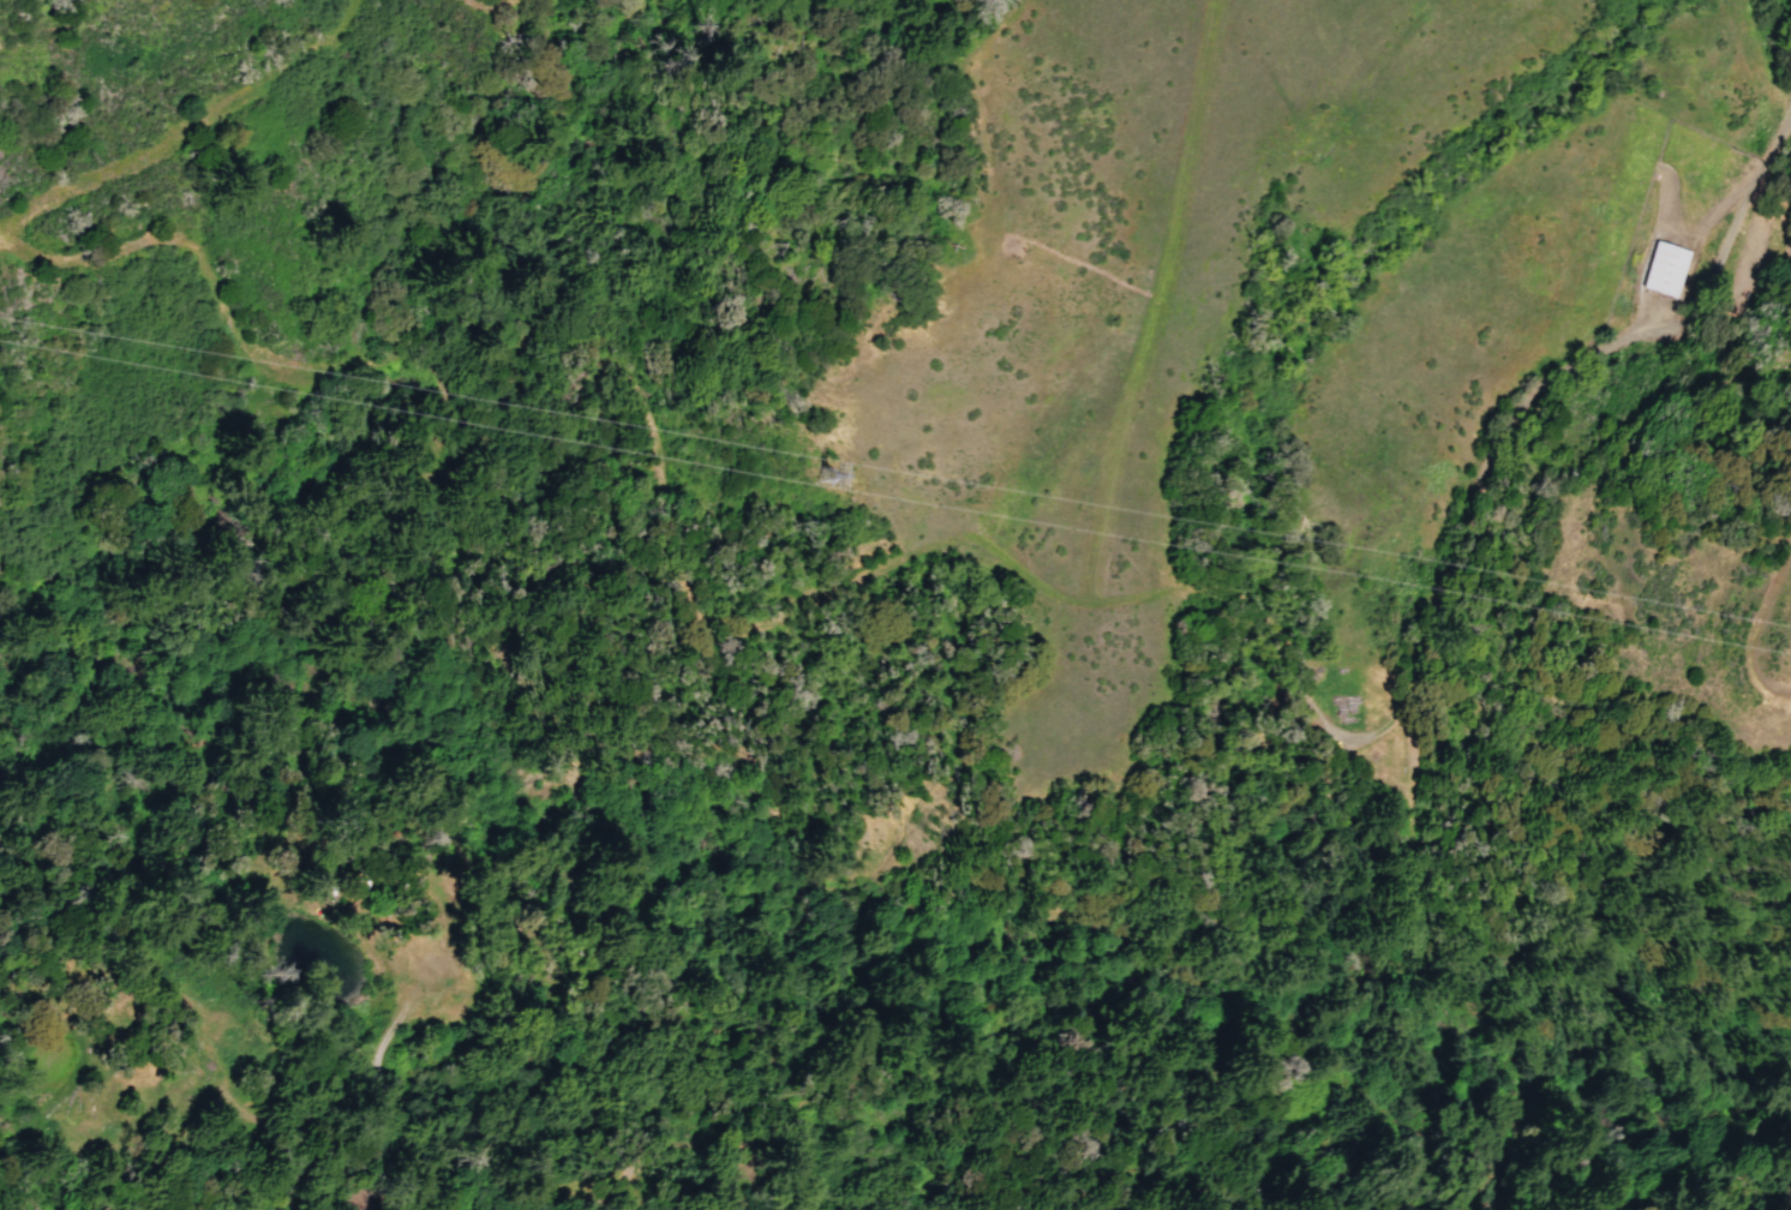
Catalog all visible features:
building: (1663, 269)
power tower: (825, 472)

